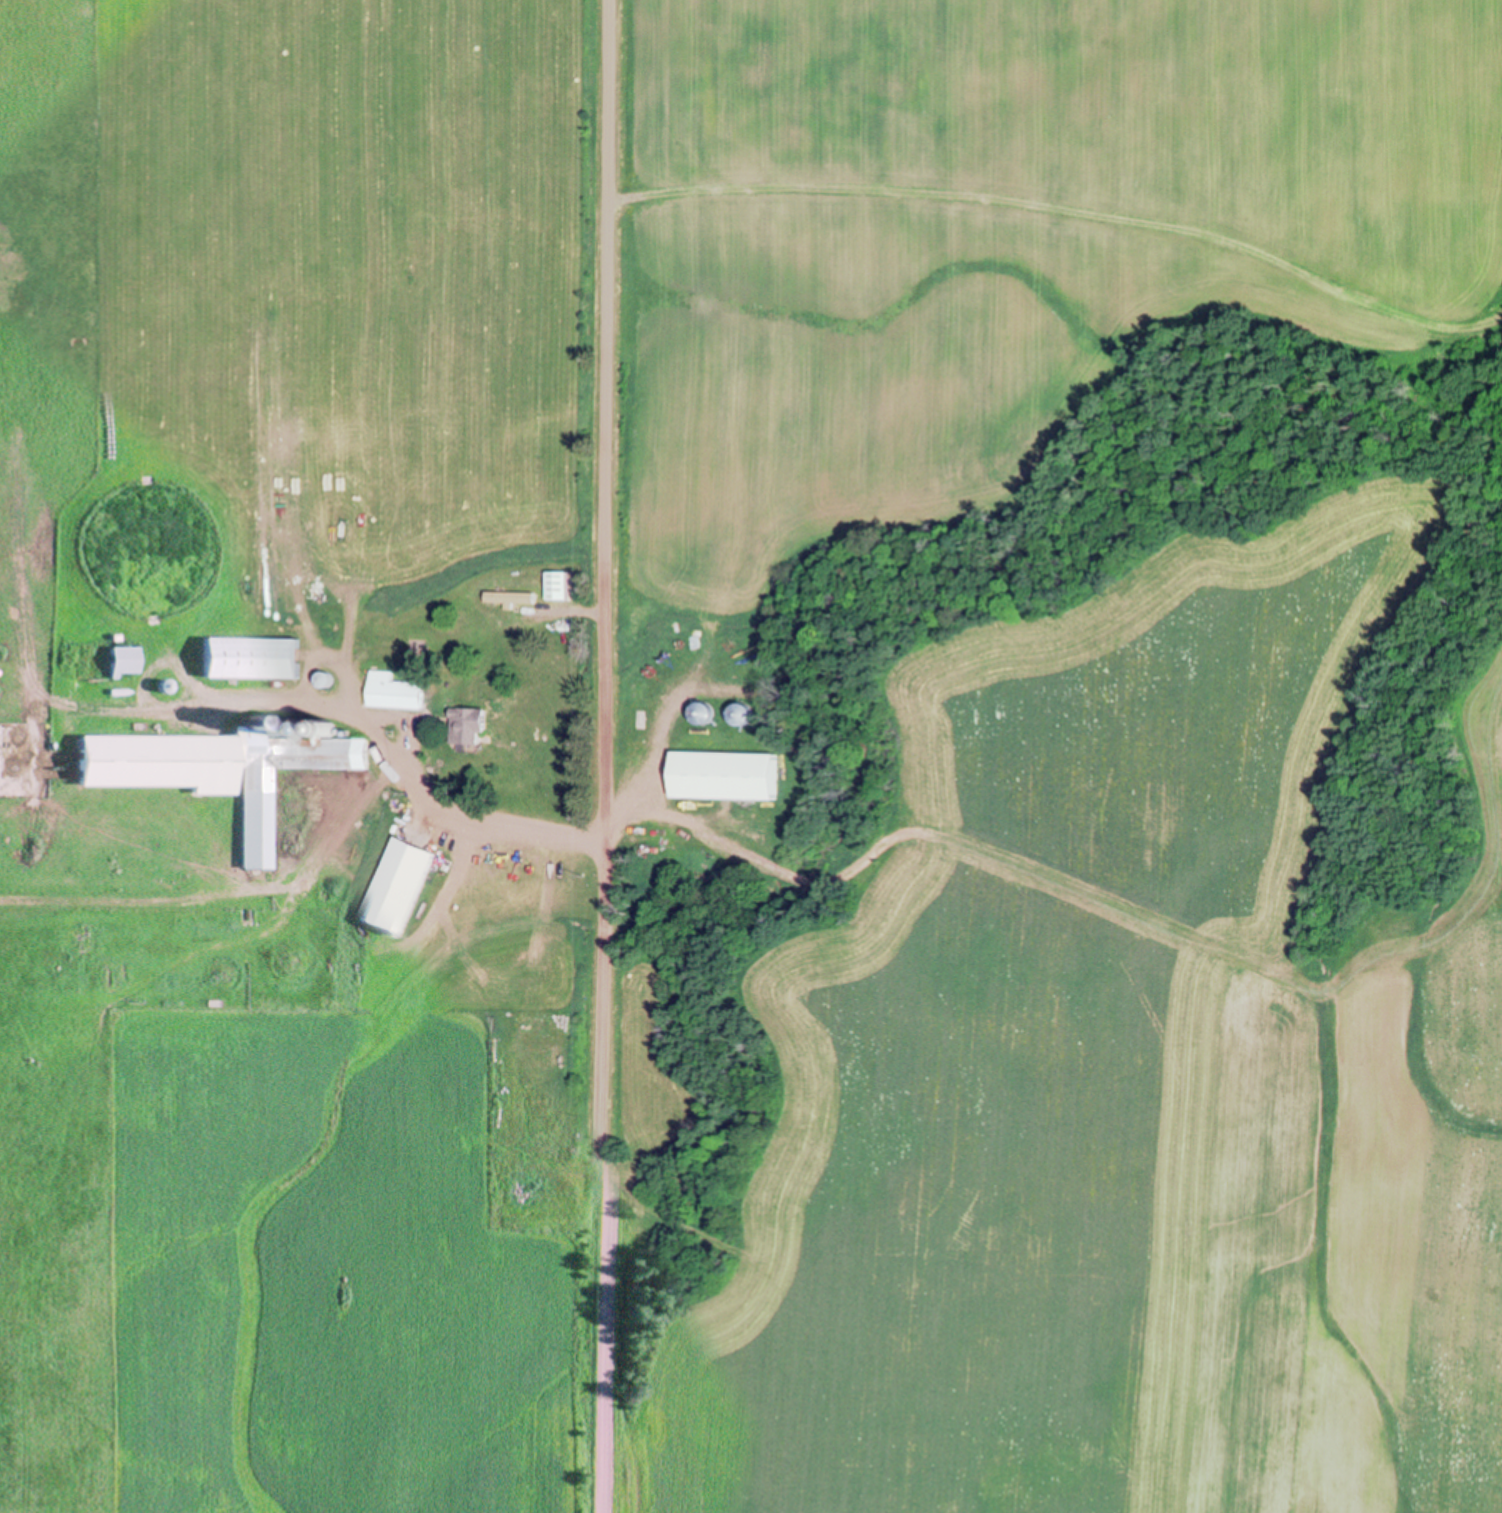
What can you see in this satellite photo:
crop: (997, 237)
building: (563, 584)
building: (515, 596)
building: (333, 625)
building: (252, 656)
building: (126, 659)
building: (324, 678)
building: (167, 685)
building: (397, 690)
building: (708, 711)
building: (748, 712)
building: (473, 724)
building: (332, 725)
road: (604, 756)
building: (217, 764)
building: (731, 775)
road: (544, 831)
building: (400, 886)
building: (520, 1016)

